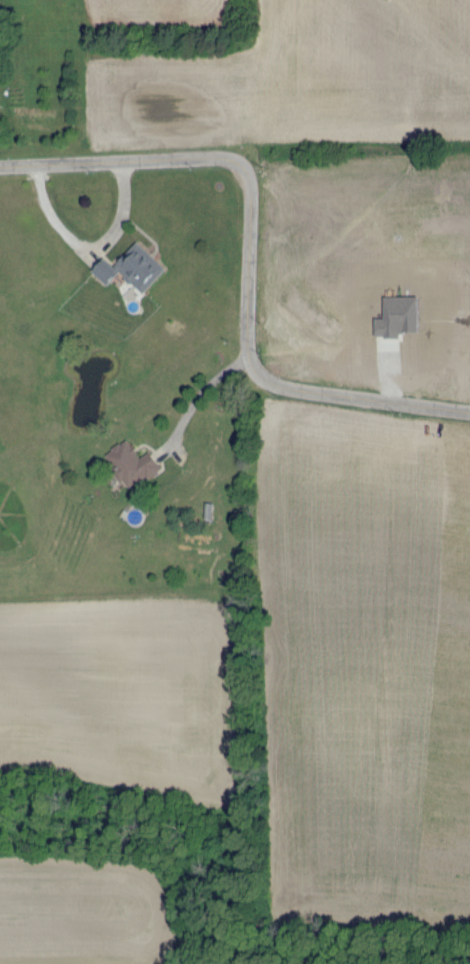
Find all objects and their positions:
road: (88, 244)
road: (248, 255)
building: (132, 267)
building: (398, 317)
road: (362, 343)
road: (392, 371)
road: (202, 390)
road: (164, 448)
building: (132, 461)

